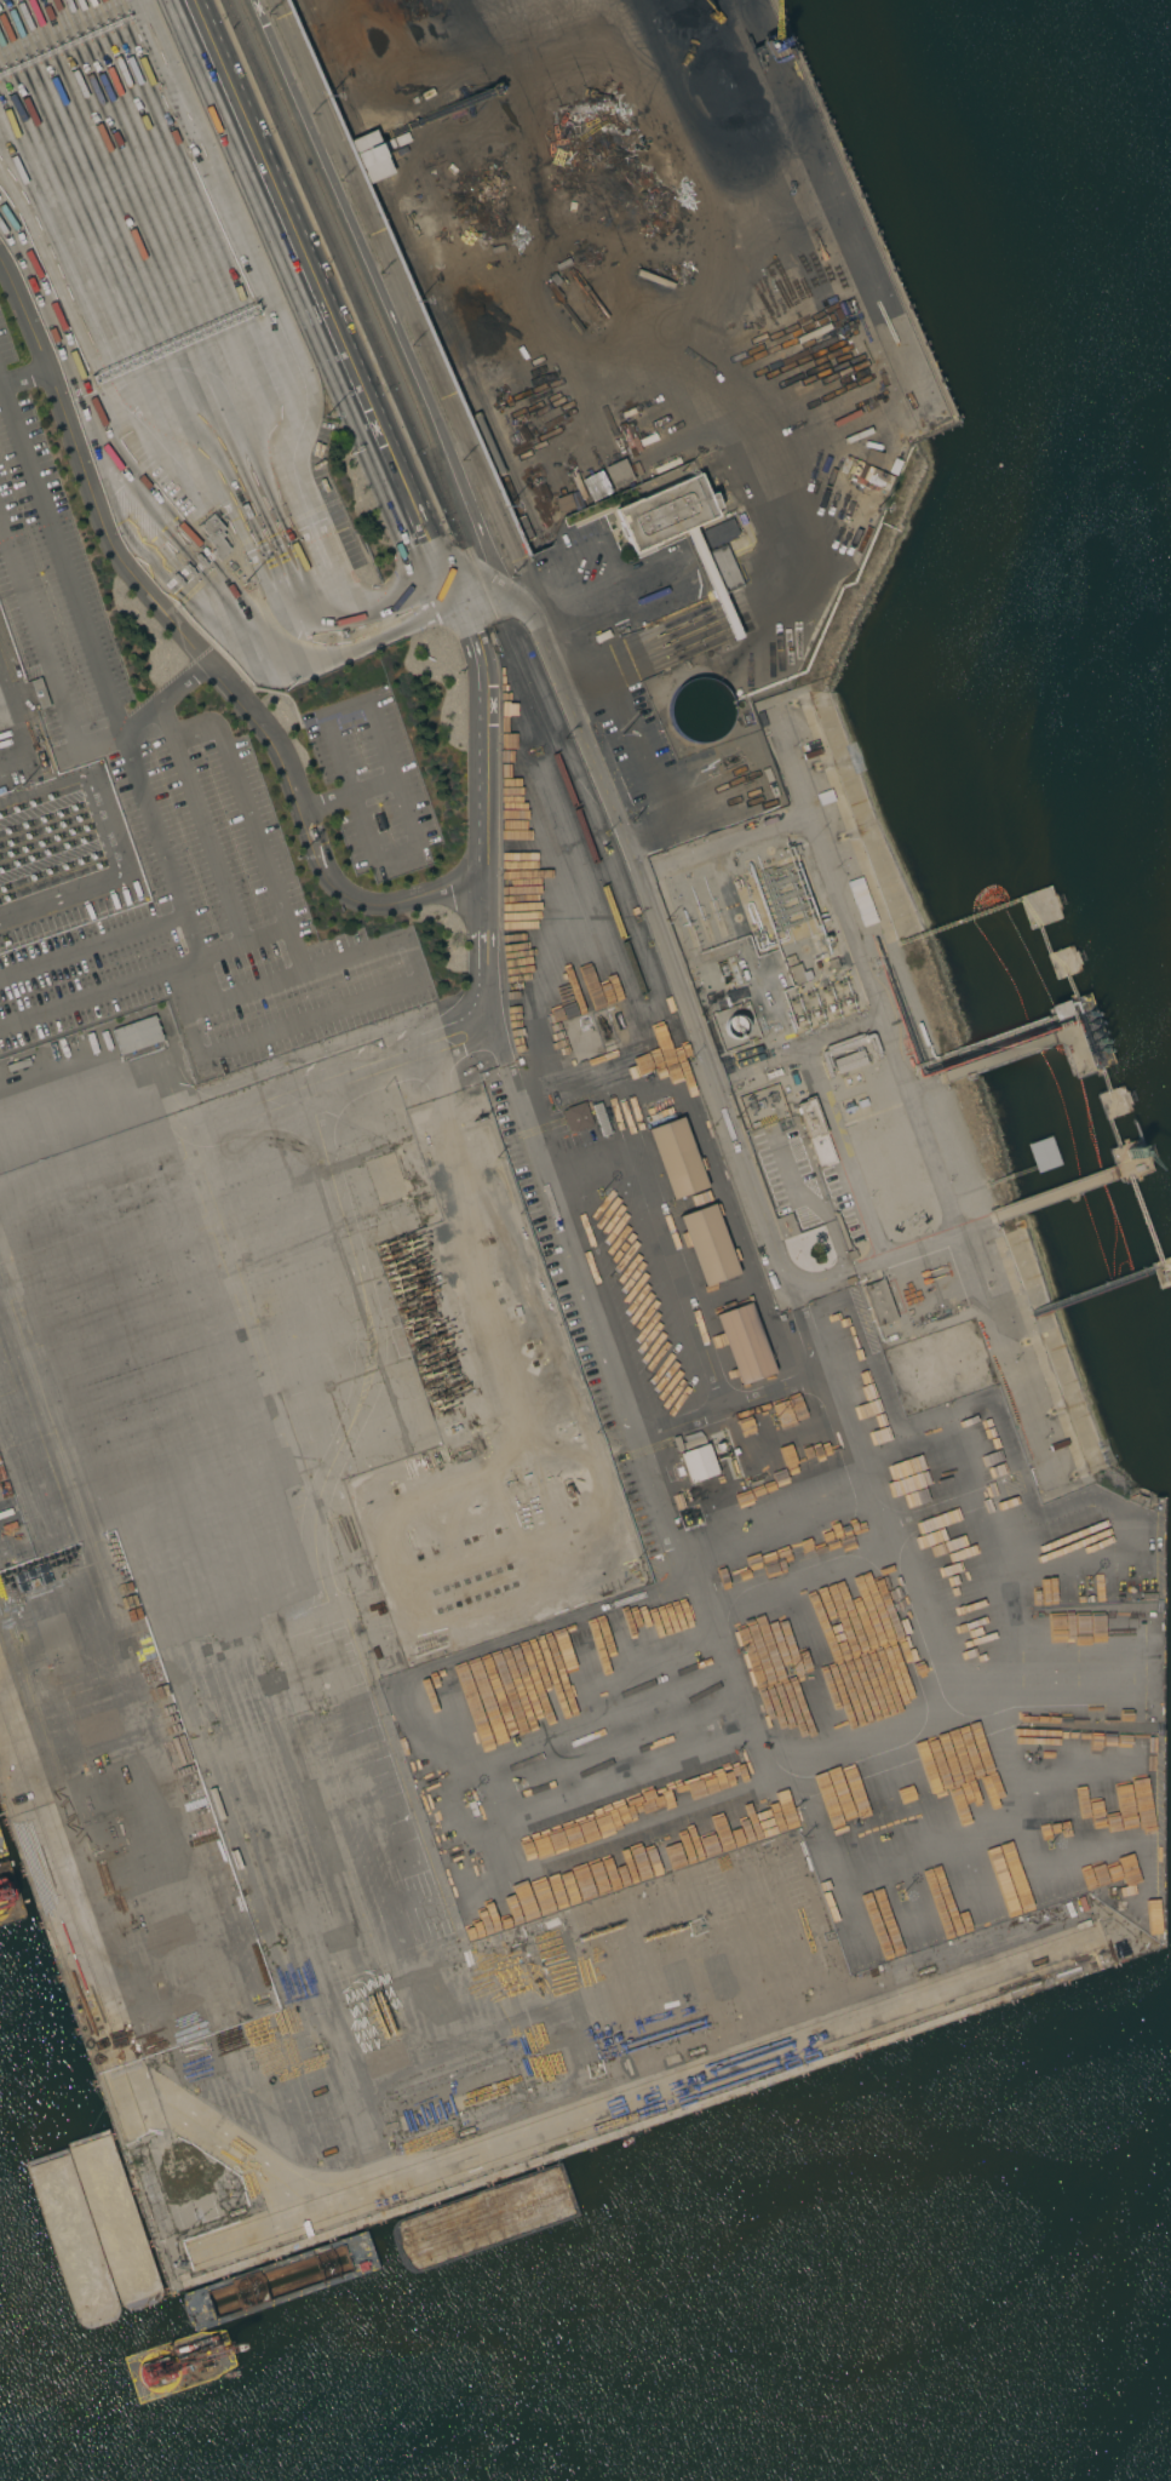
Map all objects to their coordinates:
railway: (332, 67)
railway: (332, 67)
building: (368, 156)
railway: (412, 251)
railway: (413, 252)
railway: (358, 267)
railway: (427, 273)
railway: (417, 274)
road: (25, 376)
building: (616, 474)
building: (869, 477)
building: (595, 486)
railway: (444, 497)
building: (665, 512)
building: (721, 533)
building: (214, 535)
road: (609, 554)
road: (61, 560)
building: (725, 569)
road: (681, 586)
road: (529, 598)
road: (373, 600)
road: (196, 646)
road: (584, 688)
building: (700, 710)
road: (64, 715)
road: (632, 733)
road: (390, 772)
road: (483, 780)
parking lot: (371, 784)
road: (349, 792)
road: (246, 808)
road: (767, 826)
road: (207, 840)
parking lot: (213, 932)
road: (91, 945)
road: (195, 951)
road: (667, 970)
building: (797, 974)
road: (144, 976)
road: (294, 976)
building: (1058, 1009)
road: (328, 1010)
road: (185, 1012)
building: (735, 1026)
building: (136, 1035)
building: (849, 1061)
road: (243, 1073)
road: (268, 1100)
road: (908, 1105)
building: (576, 1117)
building: (815, 1131)
building: (677, 1158)
road: (472, 1239)
building: (708, 1245)
road: (667, 1279)
building: (879, 1303)
building: (744, 1343)
building: (696, 1459)

